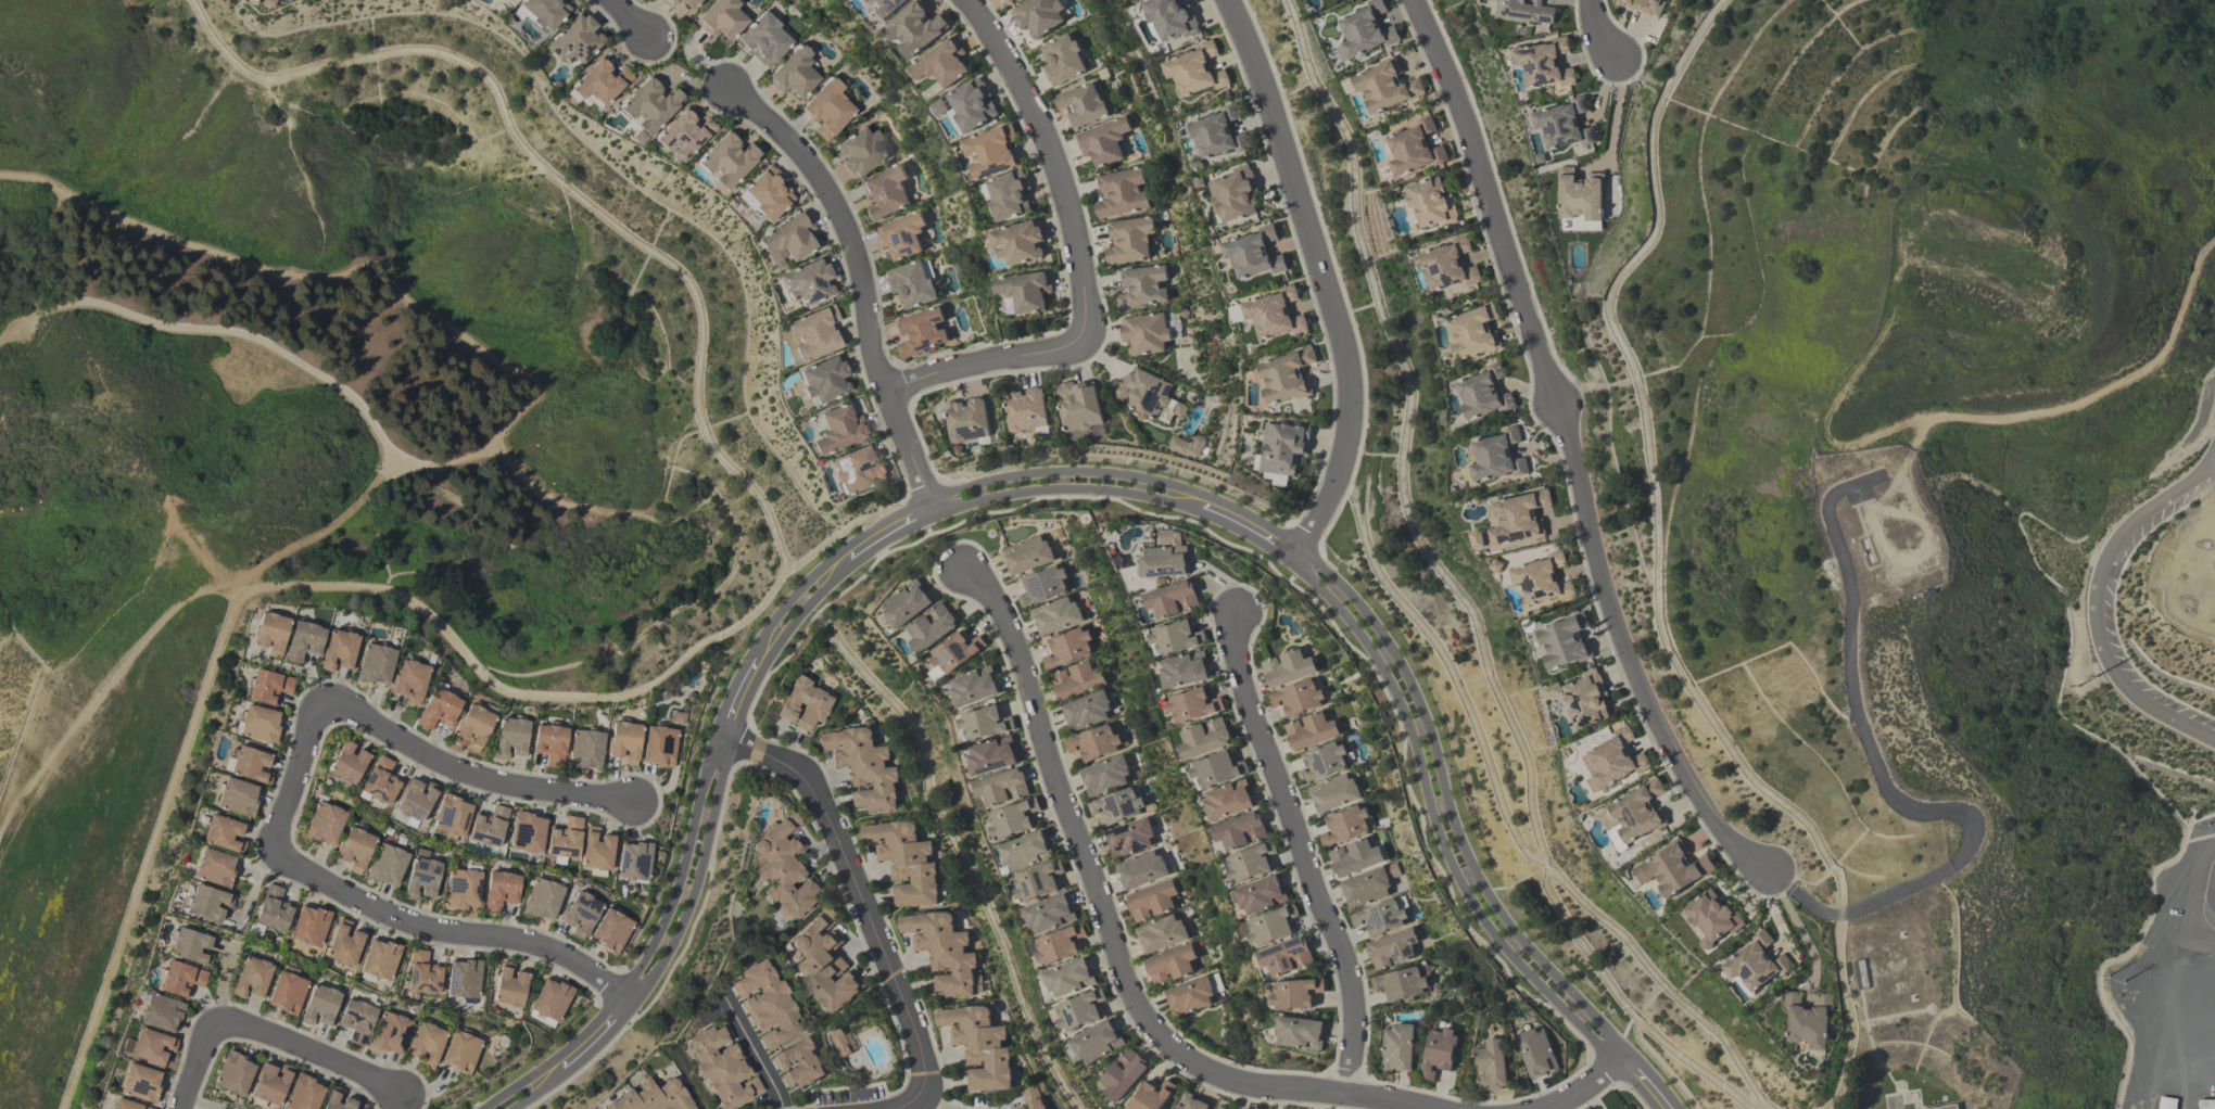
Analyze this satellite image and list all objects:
building: (667, 0)
building: (1321, 0)
building: (1630, 0)
building: (672, 1)
building: (1010, 1)
building: (266, 2)
building: (691, 3)
building: (1648, 7)
building: (884, 9)
building: (541, 11)
building: (1526, 11)
building: (1038, 15)
building: (1172, 17)
road: (628, 18)
building: (722, 18)
building: (916, 30)
building: (1366, 31)
road: (1598, 31)
building: (573, 38)
building: (765, 39)
building: (1062, 60)
building: (1543, 61)
building: (942, 63)
building: (1195, 68)
building: (794, 74)
building: (599, 80)
building: (1385, 85)
building: (649, 103)
building: (972, 103)
building: (1084, 105)
building: (828, 110)
road: (1616, 114)
building: (1561, 123)
building: (1217, 130)
building: (684, 132)
building: (1103, 141)
building: (1414, 146)
building: (991, 150)
building: (860, 151)
building: (727, 156)
building: (768, 190)
building: (884, 192)
building: (1235, 192)
building: (1009, 193)
building: (1122, 193)
building: (1581, 197)
building: (1431, 202)
building: (901, 234)
building: (787, 238)
building: (1129, 240)
building: (1018, 241)
building: (1254, 252)
road: (1077, 259)
road: (354, 264)
building: (1448, 264)
road: (1321, 277)
road: (861, 278)
building: (806, 280)
building: (912, 282)
building: (1142, 286)
building: (1026, 290)
building: (1275, 313)
road: (22, 323)
building: (814, 331)
building: (921, 331)
building: (1473, 331)
building: (1146, 333)
road: (244, 334)
building: (1287, 374)
building: (824, 378)
building: (1483, 392)
building: (1150, 395)
park: (264, 398)
building: (1079, 405)
building: (1026, 408)
building: (967, 419)
building: (838, 426)
building: (1187, 446)
building: (1283, 446)
road: (1569, 449)
building: (1496, 455)
road: (1043, 461)
road: (416, 466)
building: (858, 467)
road: (391, 471)
road: (1067, 482)
building: (1518, 518)
road: (1252, 526)
road: (888, 531)
road: (305, 540)
building: (1027, 554)
building: (1165, 557)
road: (1658, 566)
building: (1542, 578)
road: (1453, 584)
building: (1042, 585)
building: (1172, 598)
building: (906, 602)
road: (797, 603)
road: (2099, 609)
building: (1055, 615)
building: (931, 627)
building: (269, 632)
building: (1176, 636)
building: (302, 640)
building: (1565, 640)
road: (705, 645)
building: (1067, 647)
building: (338, 649)
building: (952, 653)
building: (374, 663)
building: (1288, 666)
building: (1185, 668)
building: (408, 679)
building: (1077, 679)
building: (267, 686)
building: (973, 686)
building: (1298, 697)
building: (1586, 698)
road: (735, 701)
building: (803, 703)
building: (1193, 703)
road: (1856, 704)
building: (436, 706)
road: (101, 708)
building: (1086, 710)
building: (983, 722)
building: (258, 723)
building: (472, 725)
building: (1311, 730)
building: (510, 737)
building: (1204, 737)
building: (623, 740)
building: (1094, 742)
building: (549, 743)
building: (659, 744)
building: (584, 749)
building: (991, 754)
building: (1612, 760)
building: (1322, 761)
building: (346, 762)
building: (248, 764)
building: (863, 766)
building: (1216, 768)
road: (295, 775)
building: (1104, 775)
road: (469, 778)
building: (378, 781)
building: (1002, 786)
building: (1332, 792)
building: (237, 796)
building: (1229, 799)
building: (414, 801)
building: (1117, 805)
building: (1636, 814)
road: (1442, 815)
building: (451, 817)
building: (1013, 818)
building: (324, 824)
building: (1344, 825)
building: (486, 826)
road: (1509, 826)
building: (1240, 829)
building: (527, 832)
building: (223, 833)
building: (1129, 837)
building: (564, 840)
road: (952, 844)
building: (354, 849)
building: (1026, 850)
building: (597, 851)
road: (1300, 851)
building: (1354, 856)
building: (633, 861)
building: (1251, 861)
building: (904, 862)
building: (385, 865)
building: (782, 866)
building: (214, 867)
building: (1141, 869)
building: (1673, 870)
building: (421, 876)
road: (685, 879)
building: (1038, 880)
building: (1368, 885)
building: (461, 888)
building: (499, 890)
road: (852, 891)
building: (1261, 893)
road: (2192, 897)
building: (541, 898)
building: (1152, 901)
building: (207, 903)
building: (271, 909)
building: (579, 913)
building: (1049, 913)
building: (1380, 917)
building: (1711, 920)
building: (1273, 925)
building: (308, 926)
building: (610, 930)
road: (1109, 931)
road: (445, 932)
road: (1799, 932)
building: (1161, 933)
building: (343, 943)
building: (1058, 944)
building: (190, 946)
building: (1392, 948)
building: (942, 951)
building: (1287, 955)
building: (379, 958)
building: (824, 961)
building: (1172, 965)
building: (1755, 966)
building: (421, 973)
building: (1069, 977)
building: (252, 978)
building: (180, 979)
building: (463, 979)
building: (1403, 983)
building: (509, 986)
building: (287, 993)
building: (1295, 993)
building: (1192, 994)
building: (548, 1002)
building: (767, 1004)
building: (319, 1005)
building: (1078, 1010)
building: (160, 1012)
building: (356, 1020)
building: (1808, 1022)
building: (1301, 1031)
building: (389, 1033)
road: (594, 1036)
building: (1097, 1042)
building: (426, 1043)
building: (149, 1046)
building: (978, 1046)
building: (1398, 1047)
road: (754, 1050)
building: (460, 1051)
building: (1439, 1053)
building: (1536, 1053)
road: (311, 1054)
building: (799, 1063)
road: (198, 1065)
building: (1491, 1065)
building: (721, 1067)
building: (233, 1073)
building: (1124, 1073)
building: (140, 1082)
road: (1641, 1083)
building: (269, 1084)
road: (531, 1087)
road: (1587, 1088)
building: (303, 1093)
building: (1152, 1096)
building: (332, 1097)
building: (651, 1097)
building: (1033, 1098)
road: (916, 1101)
road: (938, 1101)
building: (1192, 1101)
building: (125, 1105)
building: (2167, 1105)
building: (2206, 1105)
road: (193, 1106)
building: (1020, 1108)
building: (1222, 1108)

